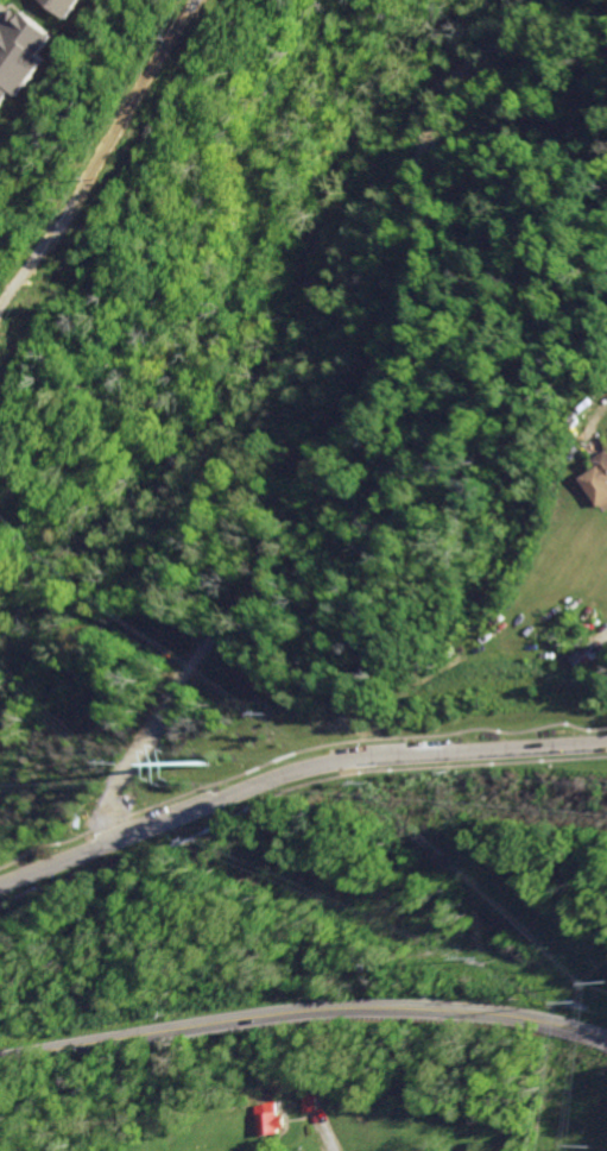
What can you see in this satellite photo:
building: (61, 6)
building: (17, 50)
building: (599, 483)
power tower: (203, 765)
road: (293, 772)
road: (303, 1008)
building: (263, 1118)
road: (322, 1138)

